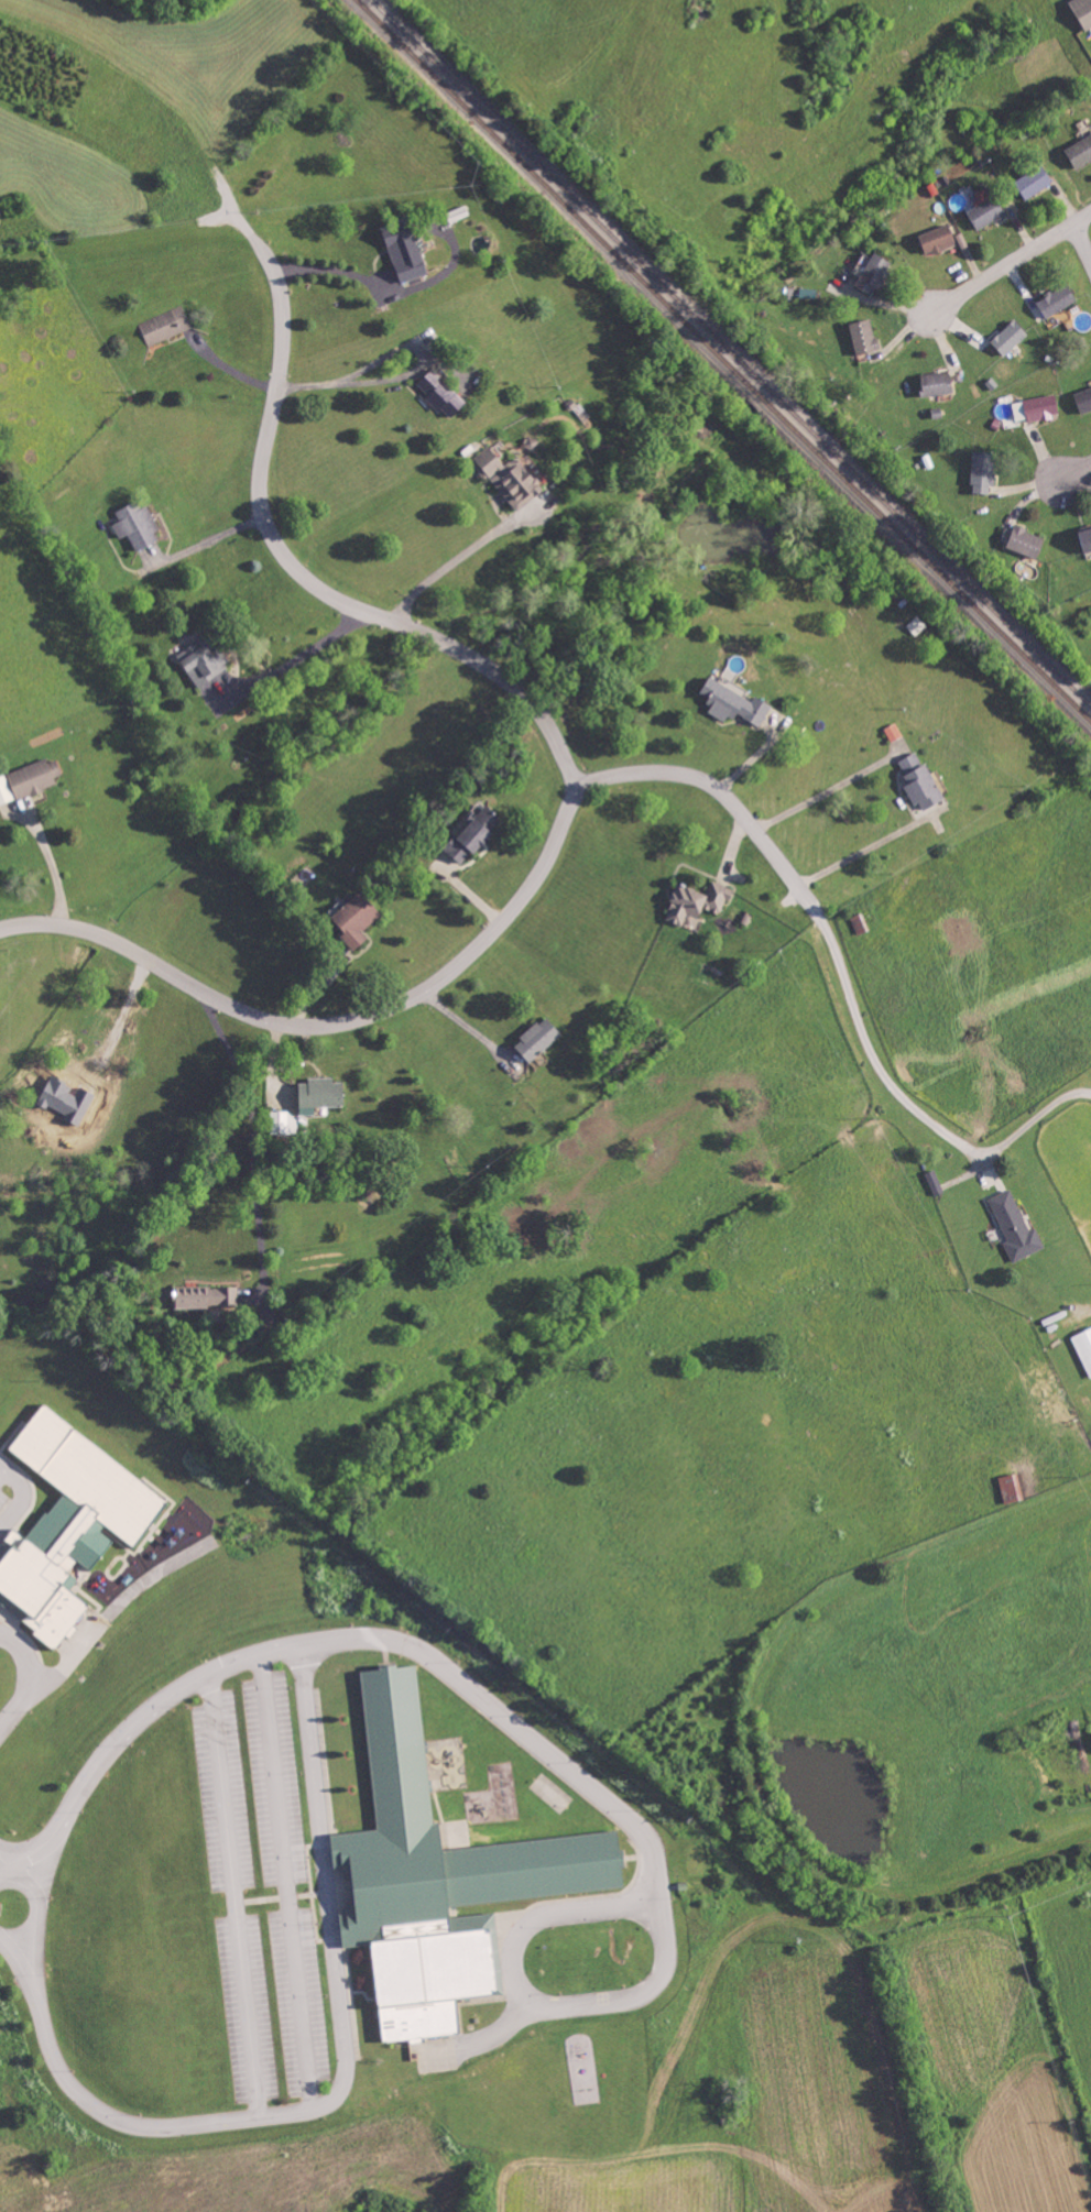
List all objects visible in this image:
building: (1083, 11)
building: (1080, 151)
building: (1035, 182)
building: (988, 208)
building: (939, 239)
road: (1082, 242)
building: (406, 249)
road: (1011, 262)
building: (876, 272)
building: (1058, 299)
building: (165, 325)
building: (865, 336)
building: (1011, 337)
railway: (733, 352)
railway: (724, 358)
building: (938, 383)
building: (441, 393)
building: (1084, 399)
building: (1037, 408)
road: (1072, 468)
building: (984, 471)
building: (510, 478)
building: (138, 526)
building: (1087, 539)
building: (1027, 541)
building: (205, 660)
building: (734, 703)
building: (893, 732)
building: (35, 777)
building: (920, 780)
road: (567, 781)
road: (703, 781)
building: (6, 790)
building: (476, 834)
road: (52, 848)
road: (863, 851)
building: (698, 901)
building: (356, 919)
building: (539, 1039)
road: (869, 1049)
building: (321, 1093)
road: (1033, 1121)
road: (254, 1129)
building: (935, 1181)
building: (1016, 1226)
building: (206, 1295)
building: (1084, 1346)
building: (1012, 1486)
road: (22, 1494)
building: (73, 1521)
road: (30, 1677)
road: (222, 1787)
road: (324, 1839)
road: (33, 1841)
road: (7, 1869)
building: (440, 1875)
road: (40, 1895)
road: (106, 2113)

